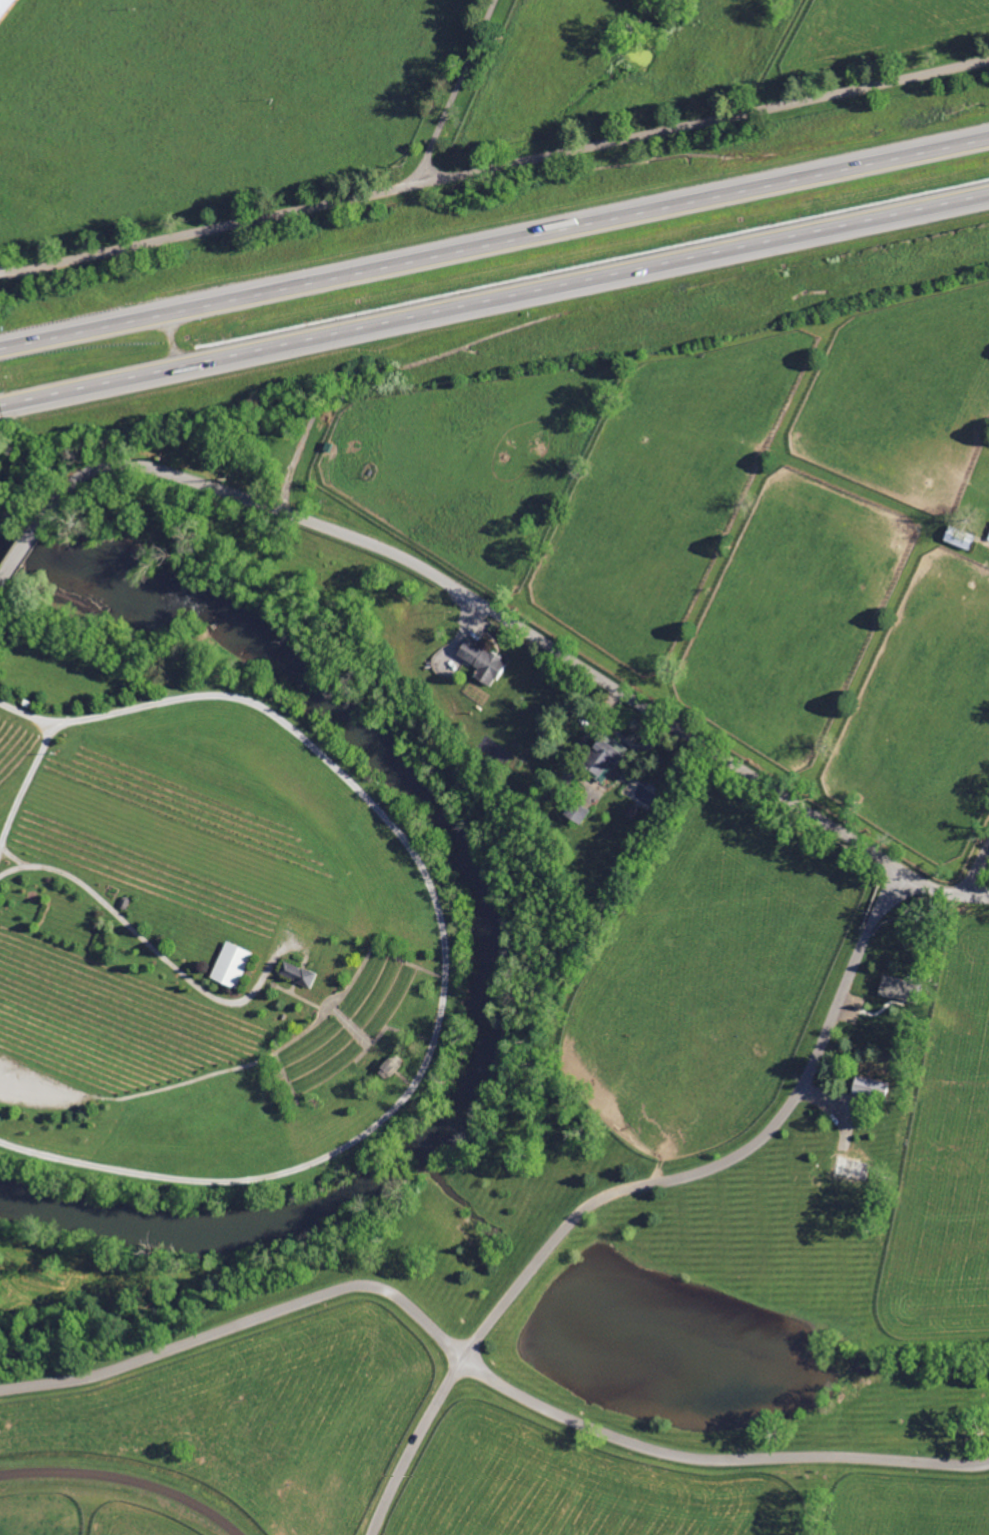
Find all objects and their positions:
building: (4, 5)
road: (455, 89)
road: (516, 162)
road: (551, 230)
road: (22, 269)
road: (575, 286)
road: (58, 340)
road: (178, 343)
road: (85, 391)
road: (4, 406)
road: (18, 565)
road: (506, 620)
building: (481, 661)
building: (603, 754)
road: (25, 786)
building: (575, 812)
road: (13, 857)
road: (978, 873)
road: (978, 896)
road: (153, 945)
river: (506, 945)
road: (445, 952)
building: (229, 964)
building: (295, 972)
building: (868, 1087)
building: (850, 1167)
road: (506, 1301)
road: (243, 1325)
road: (415, 1444)

